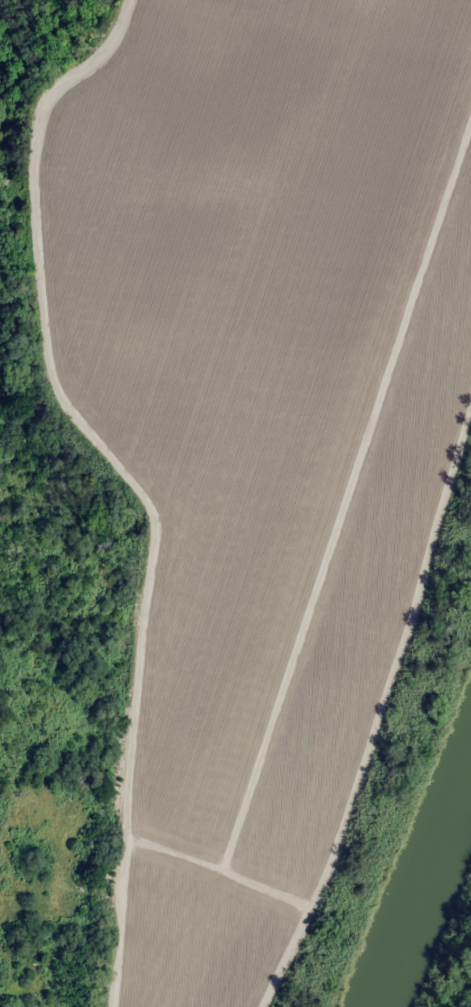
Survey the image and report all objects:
river: (416, 881)

